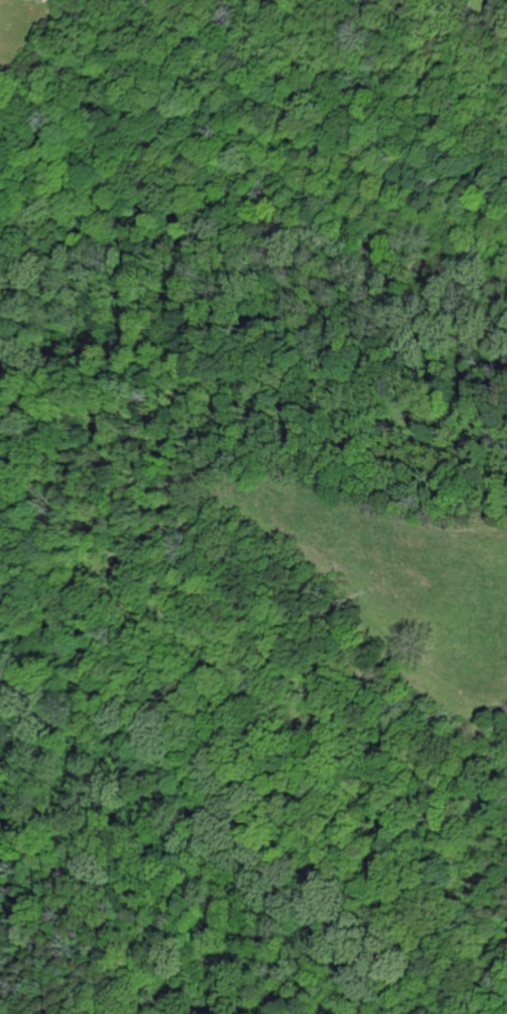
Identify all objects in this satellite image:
road: (249, 183)

